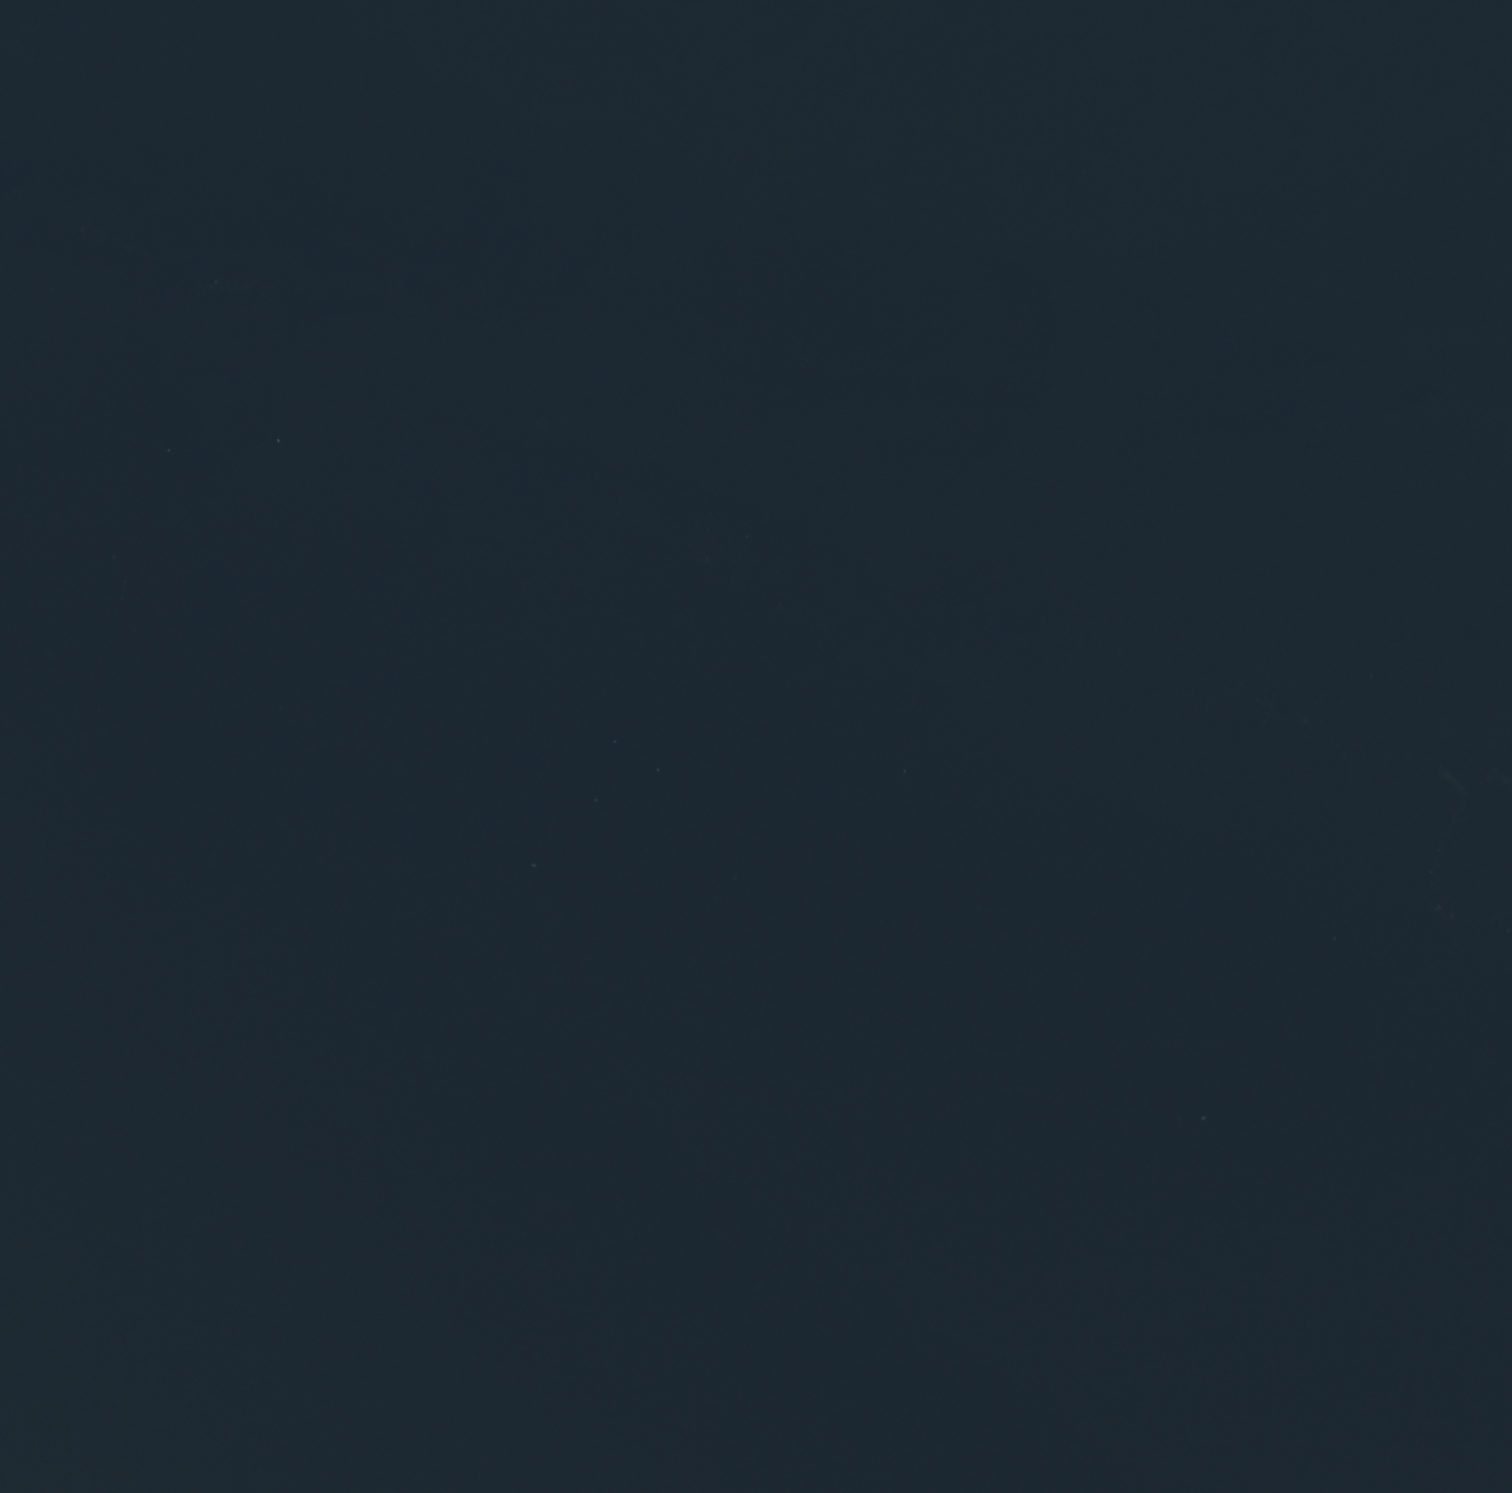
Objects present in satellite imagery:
river: (756, 563)

